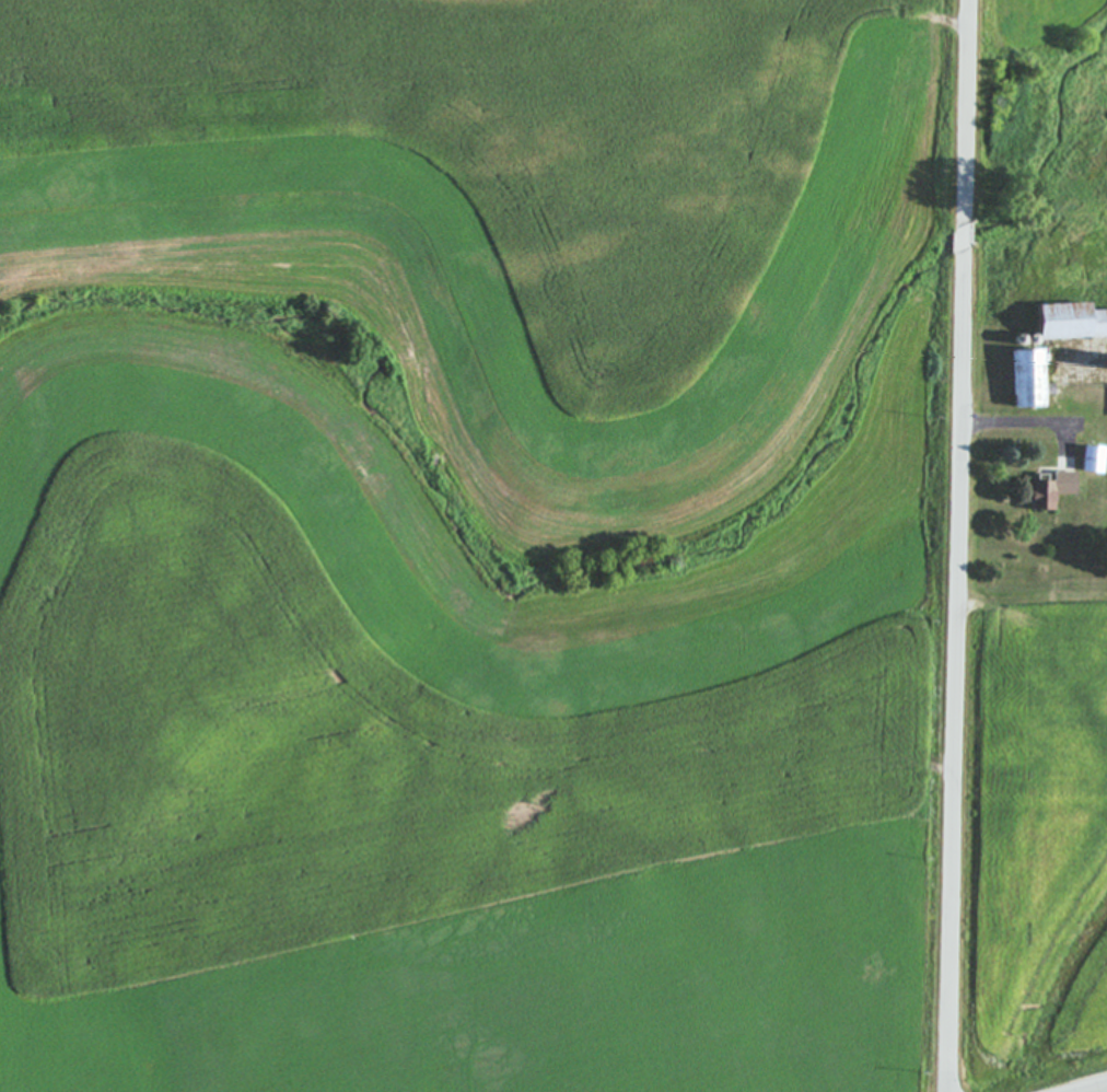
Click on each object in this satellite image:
road: (969, 104)
road: (968, 234)
building: (1064, 323)
building: (1022, 380)
road: (1033, 421)
building: (1086, 461)
building: (1048, 491)
road: (960, 676)

